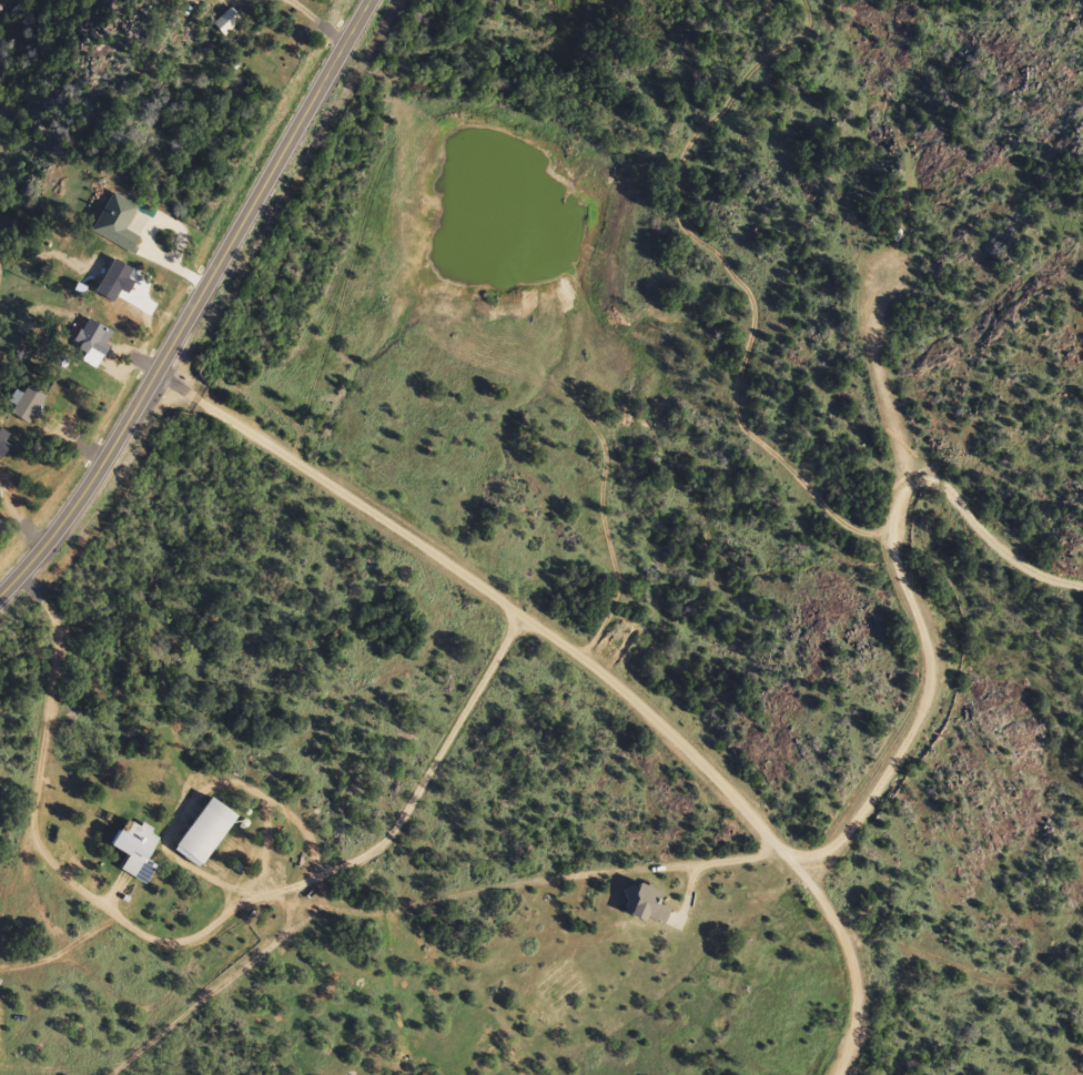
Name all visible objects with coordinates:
road: (246, 0)
road: (314, 20)
building: (226, 22)
building: (118, 223)
road: (22, 253)
road: (190, 300)
building: (28, 406)
building: (0, 525)
road: (985, 527)
road: (910, 597)
road: (581, 659)
road: (36, 810)
building: (208, 830)
building: (135, 845)
building: (648, 903)
road: (325, 905)
road: (190, 933)
road: (1062, 1074)

